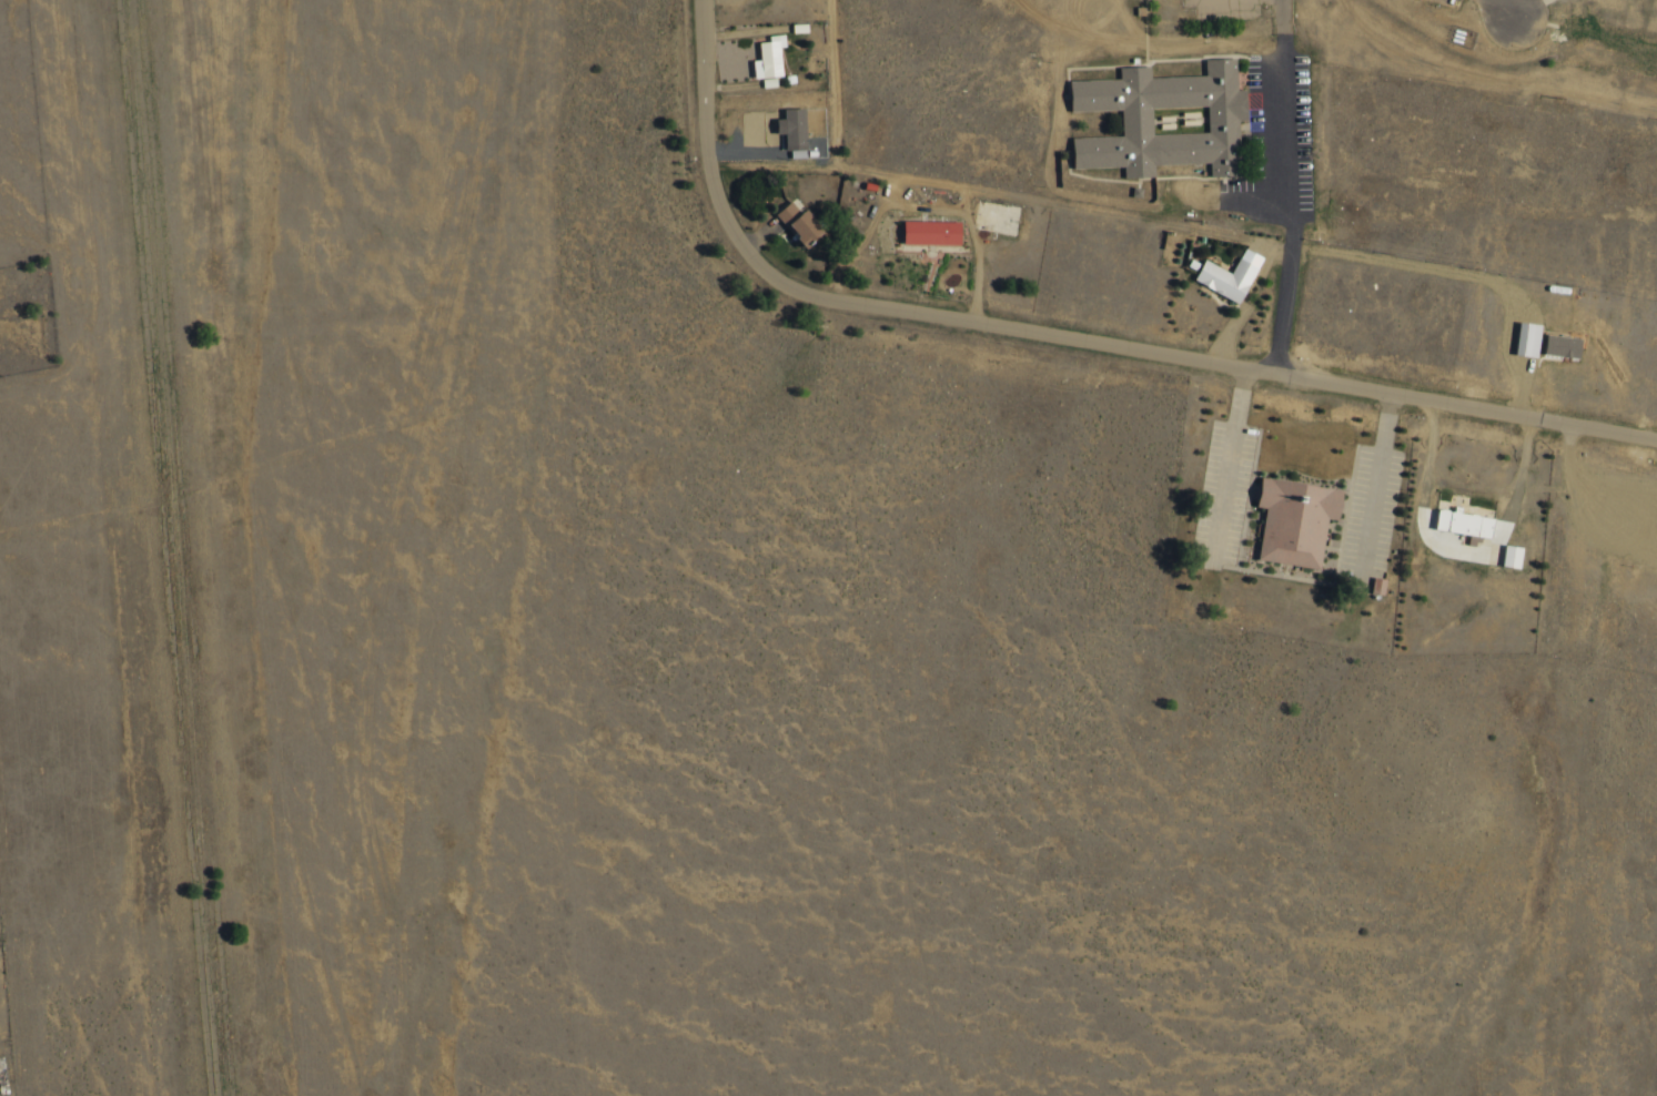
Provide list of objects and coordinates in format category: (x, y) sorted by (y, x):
building: (769, 58)
building: (1158, 120)
building: (794, 128)
road: (830, 138)
road: (1287, 186)
building: (801, 223)
building: (932, 233)
building: (1231, 275)
road: (1064, 337)
building: (1529, 338)
building: (1564, 345)
building: (1286, 517)
building: (1454, 518)
road: (467, 547)
airport runway: (174, 548)
building: (1502, 552)
building: (1380, 586)

